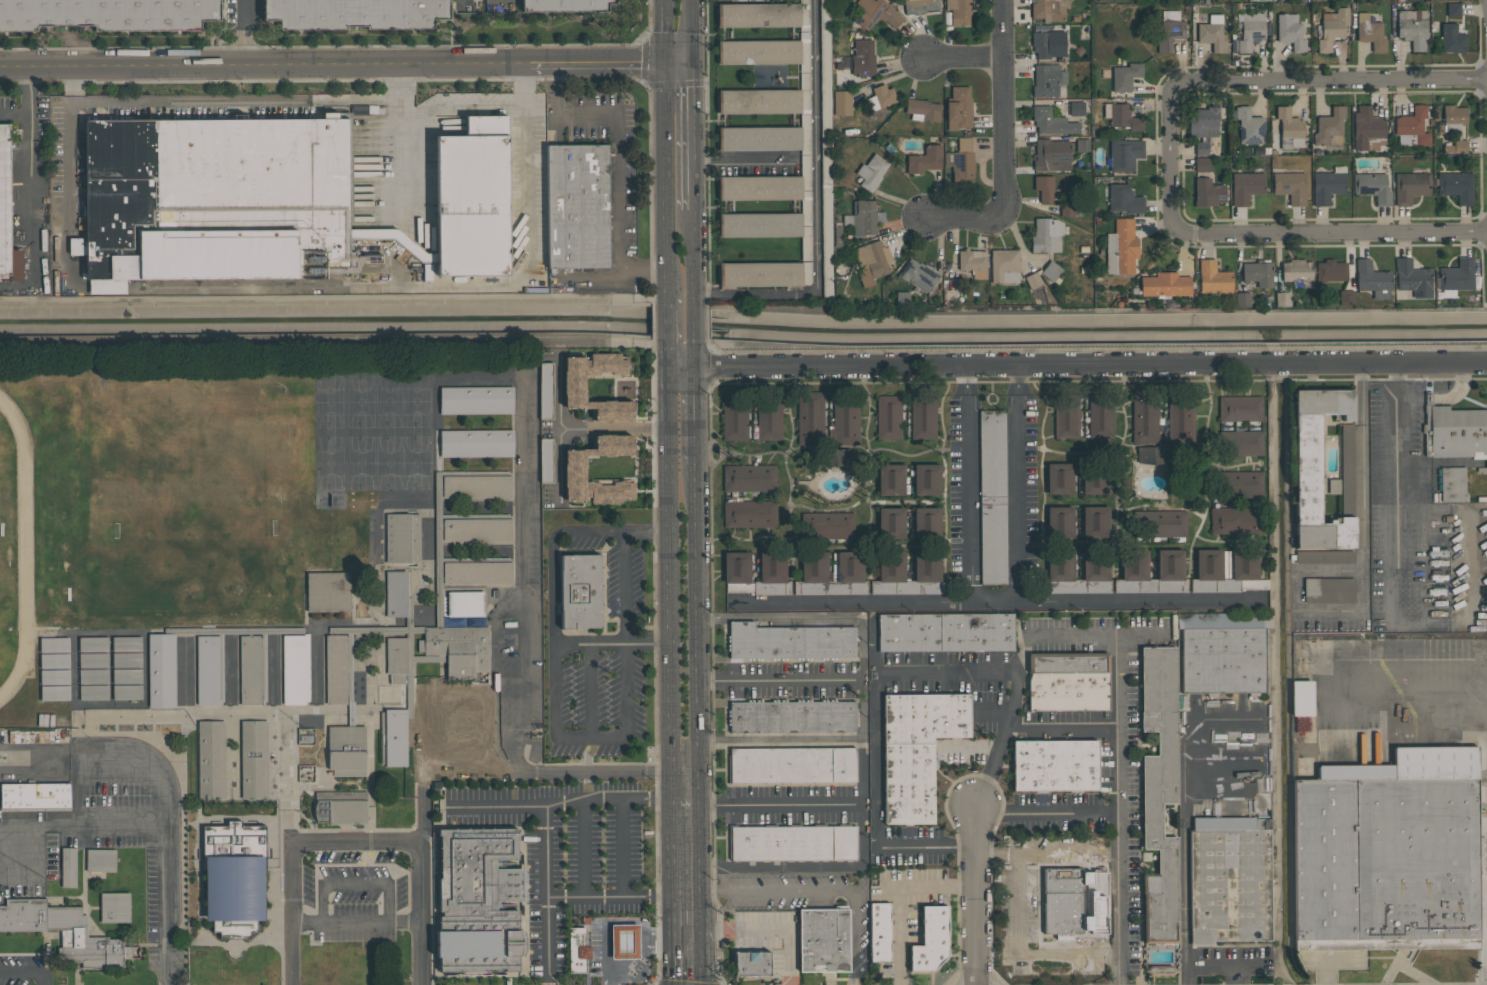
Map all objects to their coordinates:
building: (565, 5)
building: (919, 6)
building: (1049, 9)
building: (1453, 9)
building: (958, 11)
building: (875, 13)
building: (107, 14)
building: (355, 14)
building: (758, 15)
building: (1332, 27)
building: (1412, 27)
building: (1170, 30)
building: (1250, 30)
road: (664, 31)
road: (687, 31)
building: (1290, 31)
road: (244, 32)
building: (1212, 32)
building: (1370, 32)
building: (1452, 38)
building: (1048, 44)
building: (758, 52)
building: (863, 57)
road: (964, 58)
building: (825, 61)
road: (596, 62)
road: (676, 62)
road: (263, 63)
building: (1125, 76)
building: (1047, 80)
road: (1329, 81)
road: (30, 90)
building: (880, 97)
road: (236, 99)
building: (759, 101)
building: (842, 102)
building: (959, 108)
road: (1004, 108)
building: (1076, 108)
building: (922, 109)
road: (15, 115)
building: (1121, 116)
building: (1453, 120)
building: (1052, 122)
building: (1204, 122)
building: (1249, 125)
building: (1329, 127)
building: (1412, 127)
building: (1289, 128)
building: (1367, 129)
road: (688, 136)
building: (759, 138)
road: (401, 142)
building: (805, 142)
building: (1456, 147)
building: (1201, 148)
building: (1052, 155)
building: (1123, 155)
road: (616, 158)
road: (1173, 158)
building: (925, 159)
road: (742, 161)
building: (961, 162)
building: (1202, 164)
building: (826, 169)
building: (871, 171)
road: (69, 178)
road: (666, 181)
building: (1328, 185)
building: (1372, 186)
building: (1410, 186)
building: (1456, 186)
building: (1246, 187)
building: (1290, 187)
building: (759, 188)
building: (1046, 188)
building: (1207, 192)
building: (472, 198)
building: (1124, 199)
building: (219, 200)
building: (577, 206)
road: (817, 208)
building: (7, 210)
building: (1070, 210)
road: (29, 213)
road: (966, 217)
building: (862, 218)
building: (759, 225)
road: (1330, 234)
building: (1047, 235)
building: (1121, 247)
road: (690, 256)
building: (871, 262)
building: (973, 262)
building: (1004, 266)
building: (1051, 270)
building: (826, 271)
building: (1329, 271)
building: (1297, 272)
building: (1258, 273)
building: (760, 274)
building: (918, 274)
building: (1455, 276)
building: (1212, 277)
building: (1412, 278)
building: (1372, 279)
building: (1032, 280)
building: (1165, 284)
road: (439, 287)
building: (1037, 293)
building: (1344, 298)
building: (1241, 299)
building: (1281, 299)
road: (666, 322)
road: (692, 322)
road: (333, 342)
road: (667, 354)
road: (693, 355)
road: (1077, 366)
building: (573, 383)
building: (546, 391)
road: (1457, 392)
road: (557, 398)
building: (476, 400)
road: (1411, 400)
road: (1428, 400)
building: (1239, 409)
building: (1066, 412)
building: (1101, 414)
road: (693, 416)
building: (923, 416)
building: (1144, 416)
building: (769, 417)
building: (888, 417)
building: (1181, 417)
building: (734, 418)
building: (810, 418)
building: (846, 418)
road: (579, 429)
building: (1454, 431)
building: (476, 444)
building: (1234, 445)
building: (1152, 454)
building: (835, 456)
building: (1346, 456)
building: (546, 461)
road: (1437, 463)
building: (1317, 469)
building: (574, 473)
building: (749, 478)
building: (891, 479)
building: (926, 479)
building: (1061, 479)
building: (1094, 479)
road: (1018, 484)
building: (1453, 484)
road: (966, 485)
building: (476, 486)
building: (1236, 486)
road: (1396, 495)
building: (992, 497)
building: (749, 514)
building: (1237, 521)
building: (927, 522)
building: (1061, 522)
building: (1095, 522)
building: (891, 523)
building: (1159, 524)
building: (826, 525)
building: (477, 529)
road: (646, 533)
road: (591, 535)
building: (402, 538)
building: (1096, 565)
building: (1134, 565)
building: (1171, 565)
building: (1209, 565)
building: (1244, 565)
building: (1060, 566)
road: (1469, 566)
building: (737, 572)
building: (477, 573)
building: (926, 573)
building: (849, 574)
building: (890, 574)
building: (772, 575)
building: (813, 575)
road: (1363, 576)
road: (670, 581)
building: (1254, 585)
road: (625, 589)
building: (1329, 590)
building: (328, 591)
building: (580, 591)
building: (396, 594)
road: (998, 603)
building: (945, 633)
road: (1091, 636)
building: (790, 641)
road: (649, 642)
building: (126, 643)
road: (590, 643)
building: (54, 644)
building: (93, 644)
building: (457, 648)
building: (1222, 652)
road: (520, 653)
building: (397, 658)
building: (127, 659)
building: (93, 660)
building: (54, 661)
building: (336, 669)
building: (161, 670)
building: (208, 670)
building: (250, 670)
building: (293, 670)
road: (554, 670)
road: (1013, 671)
building: (55, 676)
building: (93, 676)
building: (126, 676)
road: (778, 680)
building: (1068, 682)
road: (627, 689)
building: (127, 691)
road: (589, 691)
building: (55, 692)
building: (93, 692)
road: (1414, 693)
building: (1301, 698)
building: (792, 716)
road: (695, 725)
road: (1068, 726)
road: (873, 733)
building: (306, 736)
building: (396, 737)
road: (780, 742)
road: (864, 743)
building: (346, 750)
building: (916, 751)
building: (211, 760)
building: (254, 760)
road: (115, 761)
building: (792, 765)
building: (1054, 766)
road: (596, 771)
building: (1159, 789)
building: (35, 796)
road: (560, 804)
road: (780, 804)
building: (340, 807)
road: (1126, 810)
road: (1051, 811)
road: (1184, 816)
road: (135, 825)
road: (360, 840)
building: (792, 842)
road: (622, 847)
road: (926, 848)
road: (584, 849)
building: (1388, 853)
road: (1042, 855)
building: (100, 859)
building: (1482, 861)
road: (781, 865)
building: (68, 867)
building: (234, 877)
building: (1229, 879)
road: (673, 890)
road: (821, 890)
road: (977, 894)
road: (547, 895)
road: (900, 896)
road: (610, 897)
building: (478, 901)
building: (1075, 902)
building: (114, 907)
road: (356, 920)
road: (768, 930)
building: (880, 932)
building: (66, 933)
building: (823, 939)
building: (930, 940)
building: (624, 941)
building: (577, 950)
road: (1024, 955)
building: (605, 957)
building: (751, 963)
road: (1210, 966)
road: (25, 971)

